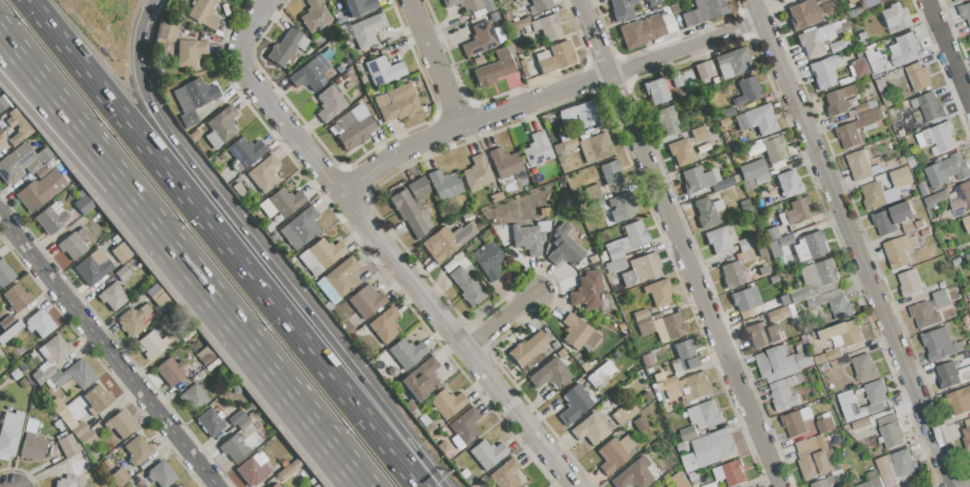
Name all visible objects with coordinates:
building: (513, 0)
building: (514, 0)
building: (957, 0)
building: (783, 1)
building: (821, 1)
building: (655, 2)
building: (836, 2)
building: (870, 3)
building: (464, 4)
building: (539, 5)
building: (359, 6)
building: (827, 8)
building: (622, 9)
building: (710, 9)
building: (225, 10)
building: (965, 12)
building: (204, 13)
building: (804, 14)
building: (314, 15)
building: (506, 17)
building: (895, 17)
building: (668, 18)
building: (691, 18)
building: (517, 25)
building: (547, 27)
building: (845, 27)
building: (526, 30)
building: (167, 31)
building: (366, 31)
building: (641, 31)
building: (498, 35)
building: (862, 36)
building: (515, 38)
building: (480, 40)
building: (814, 40)
building: (347, 42)
building: (836, 47)
building: (286, 48)
building: (903, 49)
building: (510, 52)
building: (190, 53)
road: (947, 53)
building: (326, 55)
building: (857, 55)
building: (555, 57)
building: (478, 60)
road: (435, 62)
building: (874, 62)
building: (733, 63)
building: (495, 68)
building: (859, 68)
building: (339, 69)
building: (383, 71)
building: (702, 71)
building: (825, 71)
building: (525, 72)
building: (310, 74)
building: (919, 76)
building: (344, 77)
building: (676, 80)
building: (337, 81)
building: (881, 84)
building: (849, 90)
building: (656, 91)
building: (747, 91)
building: (399, 92)
building: (199, 93)
road: (547, 95)
building: (887, 98)
building: (380, 100)
building: (854, 101)
road: (58, 103)
building: (835, 103)
building: (3, 104)
building: (329, 104)
building: (866, 106)
building: (931, 106)
building: (400, 108)
building: (723, 113)
building: (359, 115)
building: (580, 116)
building: (188, 119)
building: (761, 119)
building: (667, 121)
building: (19, 123)
road: (58, 123)
building: (222, 125)
building: (367, 125)
building: (859, 127)
building: (698, 135)
building: (194, 136)
building: (567, 136)
building: (350, 137)
building: (940, 137)
building: (1, 139)
building: (16, 139)
building: (690, 141)
building: (563, 145)
building: (702, 148)
building: (596, 149)
building: (755, 149)
building: (537, 150)
building: (774, 151)
building: (245, 152)
building: (681, 152)
building: (44, 155)
building: (902, 161)
building: (911, 161)
building: (505, 163)
building: (16, 164)
building: (860, 166)
building: (956, 166)
building: (33, 167)
building: (751, 170)
building: (41, 171)
building: (477, 173)
building: (262, 175)
building: (611, 175)
building: (714, 175)
building: (899, 176)
building: (760, 178)
building: (696, 179)
building: (722, 184)
building: (749, 184)
building: (789, 184)
building: (444, 185)
building: (397, 188)
building: (923, 188)
building: (239, 189)
building: (417, 189)
building: (40, 191)
building: (80, 194)
building: (891, 194)
building: (873, 195)
building: (495, 197)
building: (936, 198)
building: (961, 199)
building: (744, 202)
building: (281, 203)
building: (418, 203)
building: (83, 205)
building: (403, 205)
building: (623, 207)
building: (746, 210)
building: (707, 212)
building: (795, 212)
building: (903, 213)
building: (945, 216)
building: (466, 217)
building: (51, 218)
building: (884, 222)
building: (967, 223)
building: (418, 224)
building: (913, 226)
building: (300, 229)
building: (925, 231)
building: (634, 234)
building: (81, 235)
building: (771, 235)
building: (527, 239)
building: (720, 239)
road: (685, 241)
building: (446, 242)
road: (223, 243)
road: (853, 243)
building: (110, 244)
road: (386, 244)
building: (779, 244)
building: (814, 244)
building: (745, 245)
building: (72, 246)
building: (468, 248)
building: (564, 248)
building: (616, 249)
building: (949, 250)
building: (801, 251)
building: (898, 251)
building: (760, 252)
building: (121, 253)
road: (261, 254)
building: (320, 257)
building: (602, 257)
building: (97, 258)
building: (593, 259)
building: (488, 260)
building: (793, 260)
building: (956, 260)
building: (463, 263)
building: (615, 265)
building: (450, 266)
building: (645, 267)
building: (763, 271)
building: (90, 272)
building: (5, 274)
building: (123, 274)
building: (733, 274)
building: (819, 274)
building: (343, 277)
building: (608, 277)
building: (627, 278)
building: (774, 280)
building: (909, 282)
building: (466, 287)
building: (327, 290)
building: (614, 290)
building: (587, 291)
building: (658, 293)
building: (801, 293)
building: (112, 296)
building: (157, 296)
building: (17, 298)
building: (941, 298)
building: (742, 300)
building: (366, 301)
building: (812, 301)
building: (969, 304)
building: (770, 307)
building: (841, 307)
building: (746, 314)
building: (778, 314)
building: (639, 315)
building: (925, 315)
building: (131, 322)
building: (6, 323)
building: (40, 324)
building: (343, 324)
road: (500, 324)
building: (384, 326)
building: (669, 328)
building: (348, 330)
road: (240, 331)
building: (834, 331)
building: (10, 332)
building: (575, 332)
building: (852, 333)
building: (187, 335)
building: (762, 335)
building: (539, 340)
building: (592, 340)
building: (837, 340)
building: (830, 343)
building: (938, 343)
building: (152, 345)
building: (555, 345)
building: (174, 346)
building: (959, 346)
building: (800, 347)
building: (57, 348)
road: (108, 352)
building: (407, 353)
building: (522, 353)
building: (561, 354)
building: (833, 354)
building: (45, 355)
building: (616, 355)
building: (206, 356)
building: (684, 357)
building: (820, 358)
building: (844, 359)
building: (648, 361)
building: (782, 363)
building: (585, 366)
building: (864, 367)
building: (171, 371)
building: (651, 372)
building: (81, 374)
building: (947, 374)
building: (964, 374)
building: (550, 375)
building: (600, 375)
building: (59, 379)
building: (421, 379)
building: (790, 380)
building: (49, 383)
building: (687, 387)
building: (236, 391)
building: (876, 392)
building: (591, 395)
building: (782, 395)
building: (647, 396)
building: (193, 398)
building: (97, 400)
building: (959, 400)
building: (447, 404)
building: (575, 404)
building: (409, 405)
building: (56, 406)
building: (251, 406)
building: (857, 408)
building: (620, 411)
building: (414, 413)
building: (61, 414)
building: (710, 414)
building: (696, 417)
building: (65, 418)
building: (236, 418)
building: (423, 420)
building: (887, 420)
building: (969, 420)
building: (796, 421)
building: (12, 422)
building: (210, 423)
building: (825, 423)
building: (861, 423)
building: (57, 424)
building: (70, 424)
building: (120, 424)
building: (243, 424)
building: (640, 424)
building: (30, 426)
building: (465, 427)
building: (60, 428)
building: (79, 430)
building: (431, 430)
building: (590, 430)
building: (663, 430)
building: (689, 434)
building: (892, 434)
building: (967, 434)
building: (61, 436)
building: (87, 438)
building: (881, 439)
building: (456, 442)
building: (626, 443)
building: (7, 444)
building: (68, 445)
building: (32, 447)
building: (443, 447)
building: (682, 447)
building: (234, 448)
building: (712, 448)
building: (137, 450)
building: (487, 454)
building: (611, 456)
building: (450, 457)
building: (813, 457)
building: (259, 459)
building: (144, 463)
building: (78, 464)
building: (283, 464)
building: (905, 466)
building: (288, 469)
building: (837, 470)
building: (652, 471)
building: (888, 471)
building: (253, 472)
building: (464, 473)
building: (733, 473)
building: (161, 474)
building: (505, 474)
building: (633, 476)
building: (693, 476)
building: (119, 477)
building: (470, 479)
building: (680, 480)
building: (871, 480)
building: (834, 481)
building: (65, 483)
building: (139, 483)
building: (821, 483)
building: (712, 484)
building: (660, 485)
building: (178, 486)
building: (275, 486)
building: (315, 486)
building: (652, 486)

